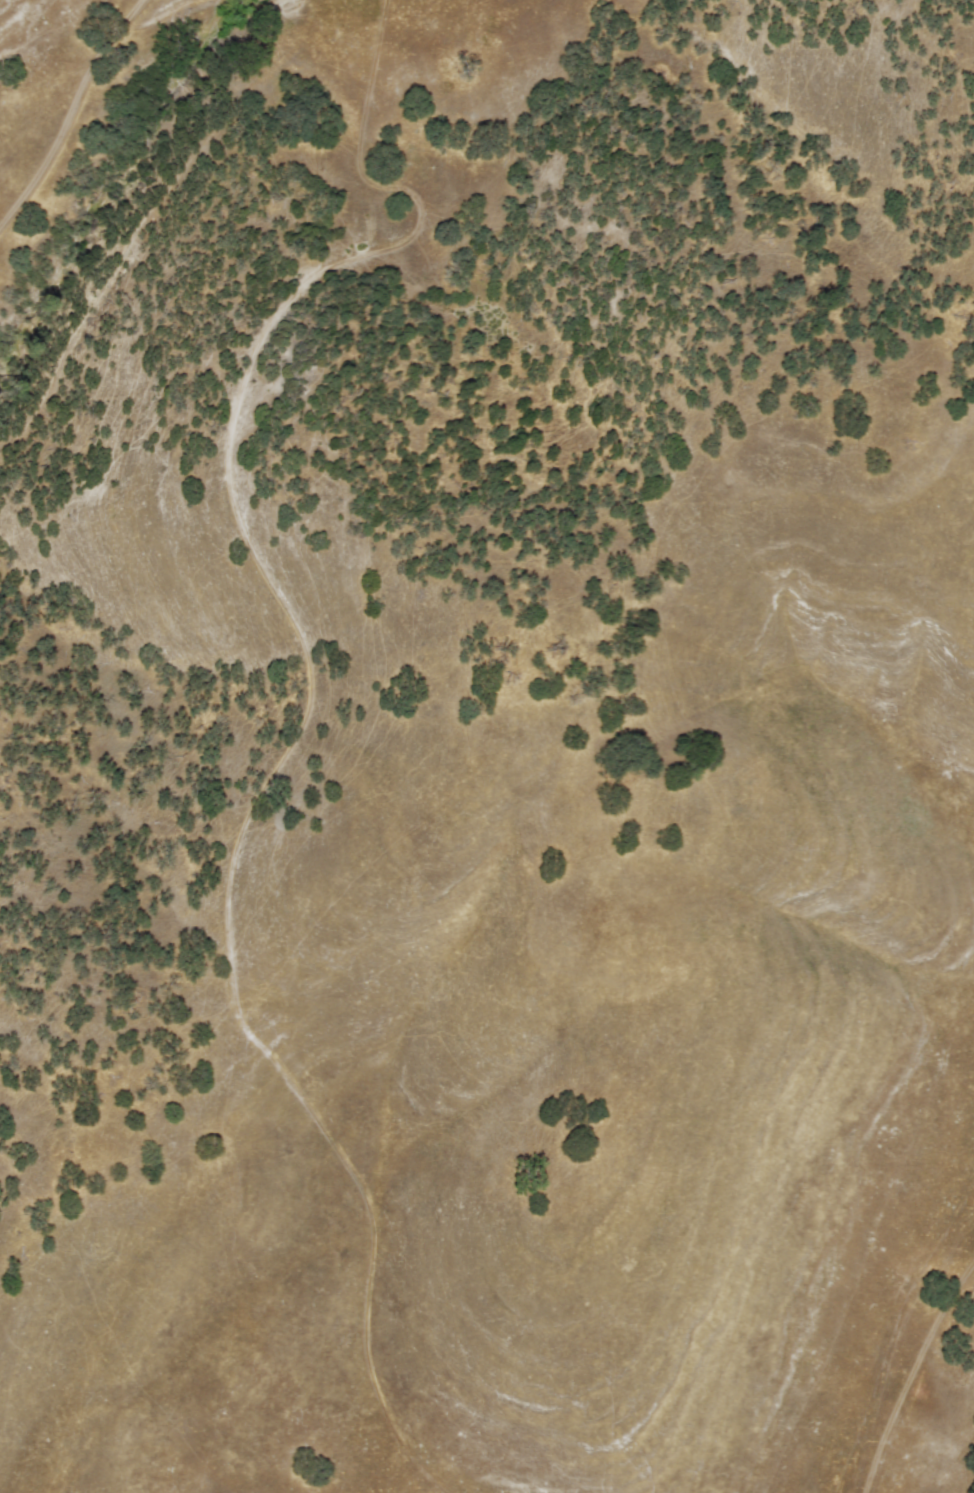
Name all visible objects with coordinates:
road: (68, 111)
road: (911, 1374)

